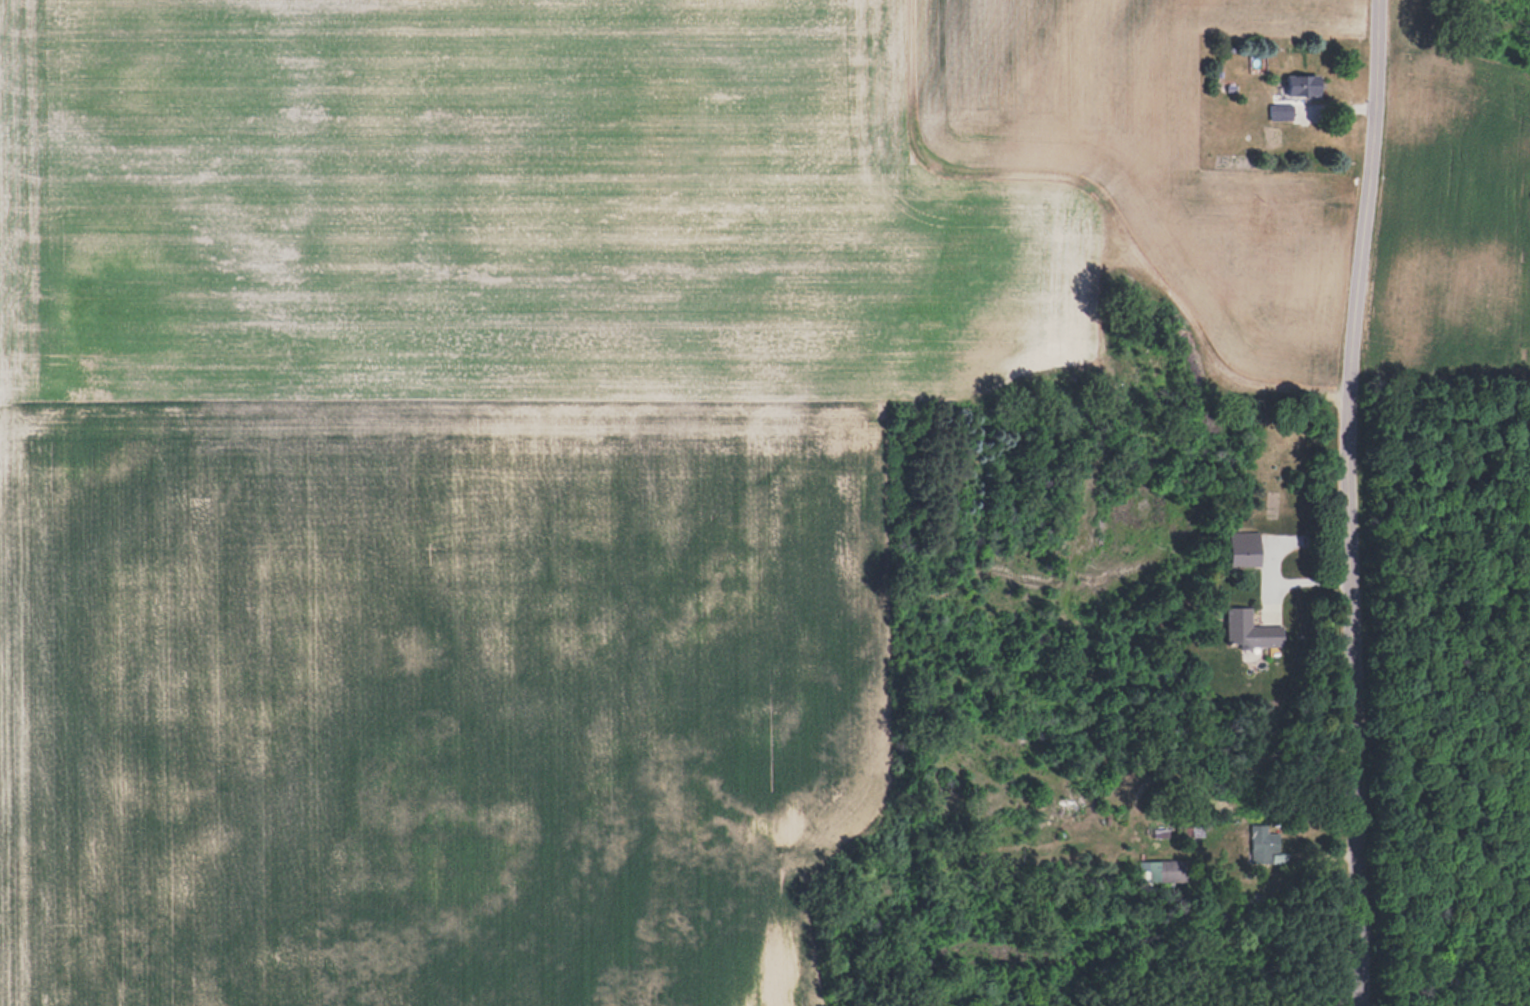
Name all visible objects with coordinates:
building: (1304, 84)
building: (1282, 109)
road: (1350, 502)
building: (1244, 548)
building: (1249, 630)
building: (1264, 843)
building: (1162, 870)

